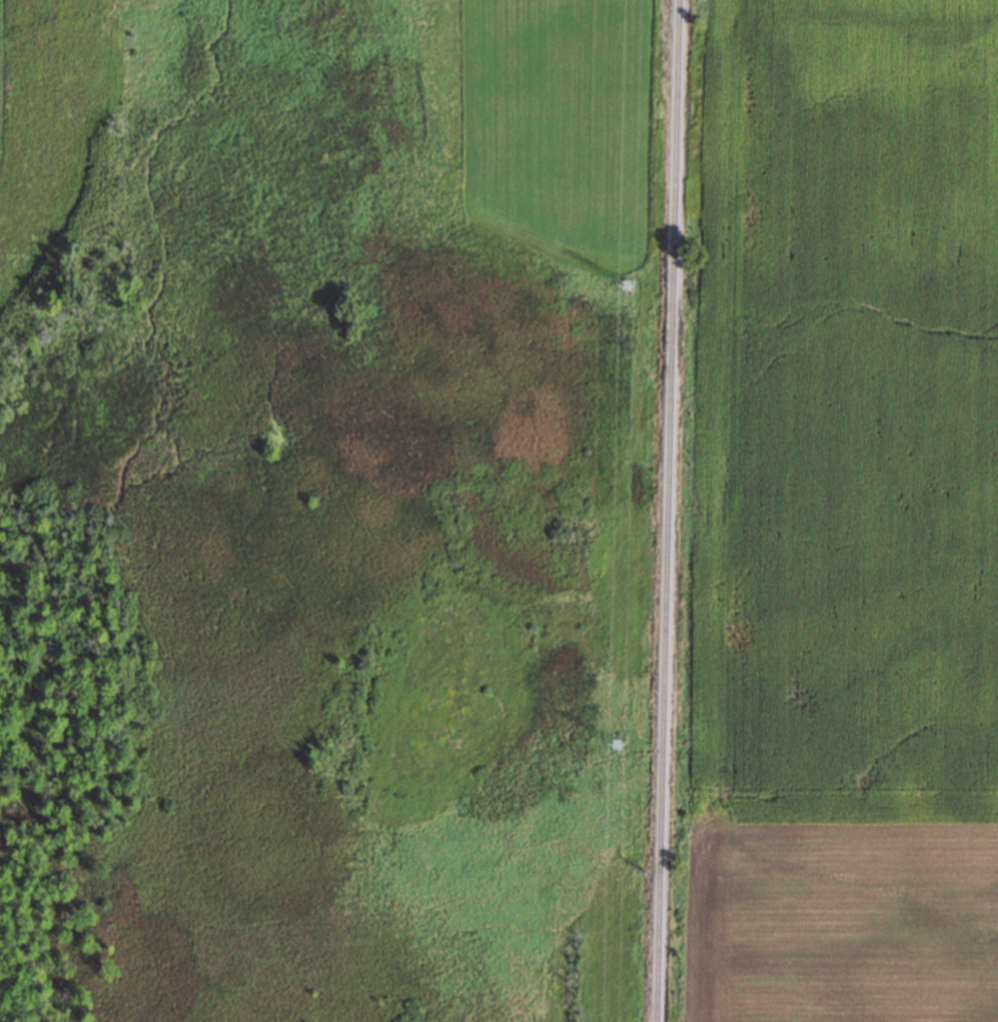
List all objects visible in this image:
railway: (656, 510)

